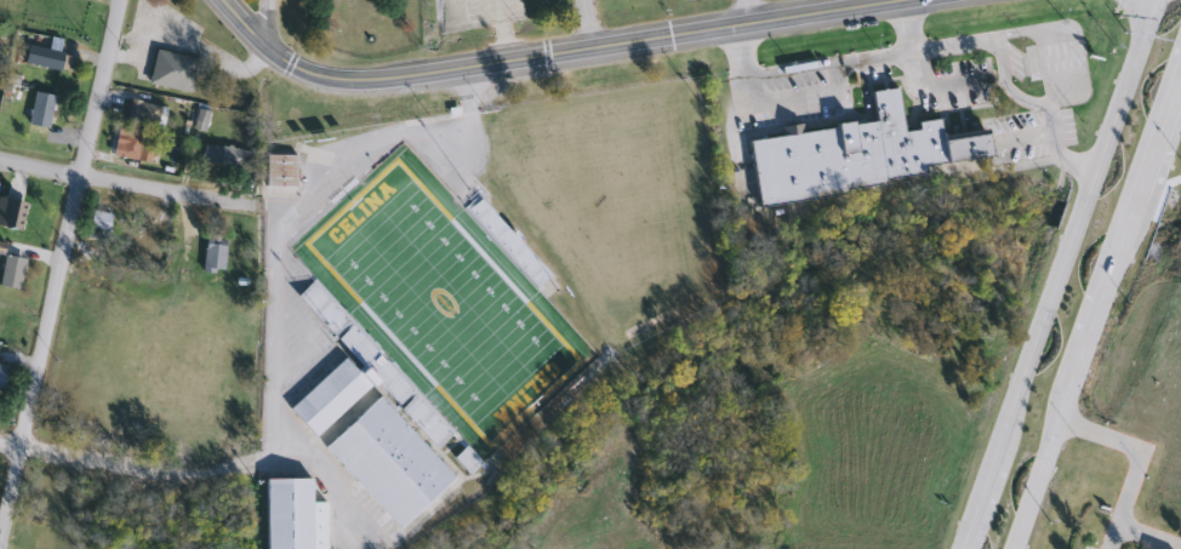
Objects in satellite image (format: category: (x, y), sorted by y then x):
road: (746, 12)
road: (1124, 16)
road: (267, 24)
road: (586, 25)
park: (366, 27)
road: (501, 32)
road: (184, 41)
building: (1051, 55)
building: (44, 58)
road: (537, 58)
road: (822, 63)
building: (172, 72)
road: (1004, 79)
road: (97, 87)
road: (1173, 101)
building: (40, 110)
building: (142, 111)
building: (200, 119)
building: (133, 144)
road: (377, 151)
building: (855, 154)
building: (224, 158)
building: (280, 171)
road: (126, 184)
building: (11, 213)
building: (139, 238)
building: (213, 252)
building: (11, 271)
road: (1045, 274)
park: (461, 294)
road: (1091, 301)
park: (443, 303)
road: (276, 330)
road: (39, 356)
building: (355, 361)
building: (2, 373)
road: (1134, 445)
road: (10, 446)
building: (388, 462)
road: (148, 469)
road: (331, 485)
building: (293, 515)
road: (1147, 537)
building: (45, 538)
road: (1111, 538)

